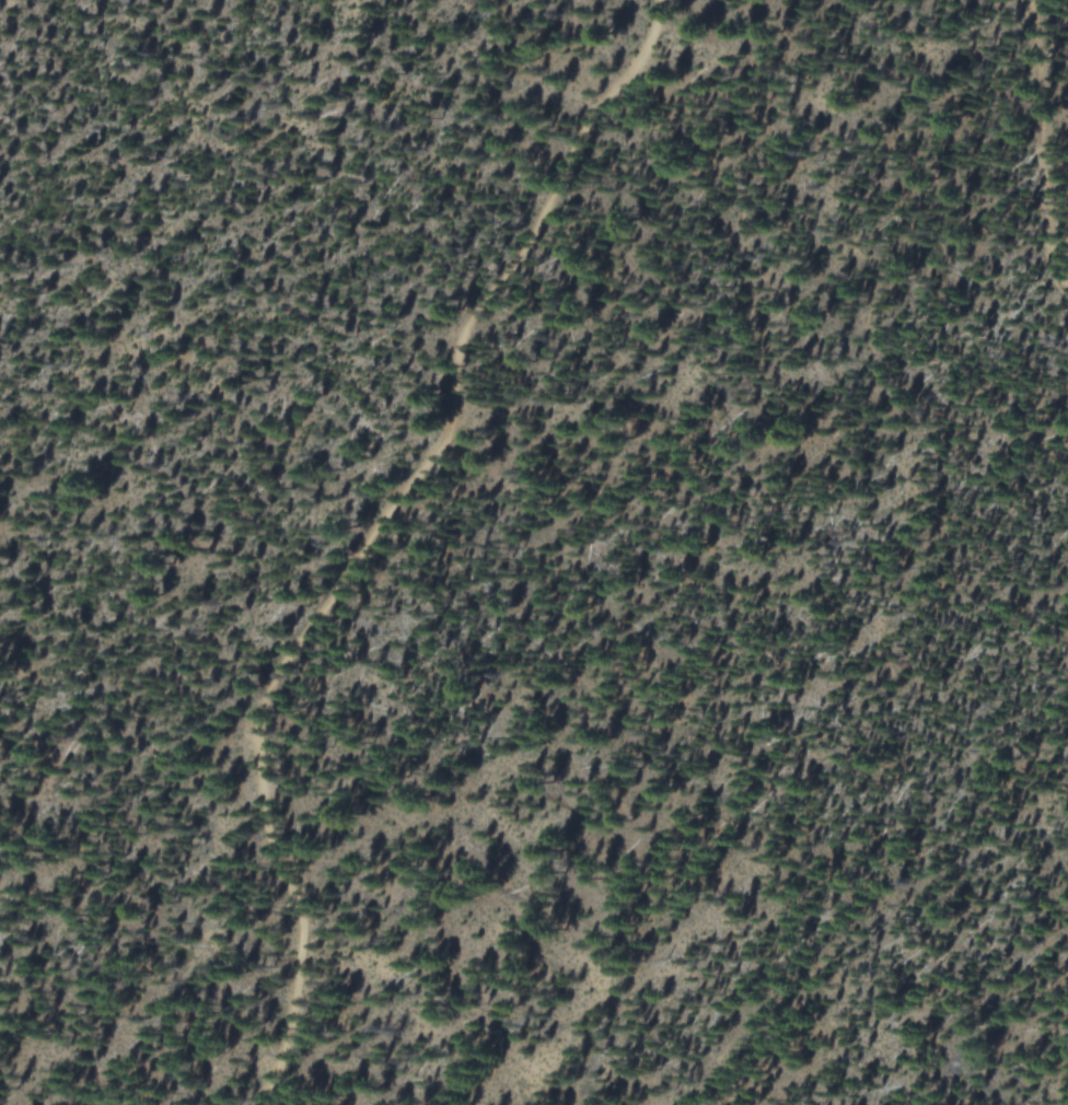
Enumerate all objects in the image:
road: (1041, 146)
road: (372, 532)

